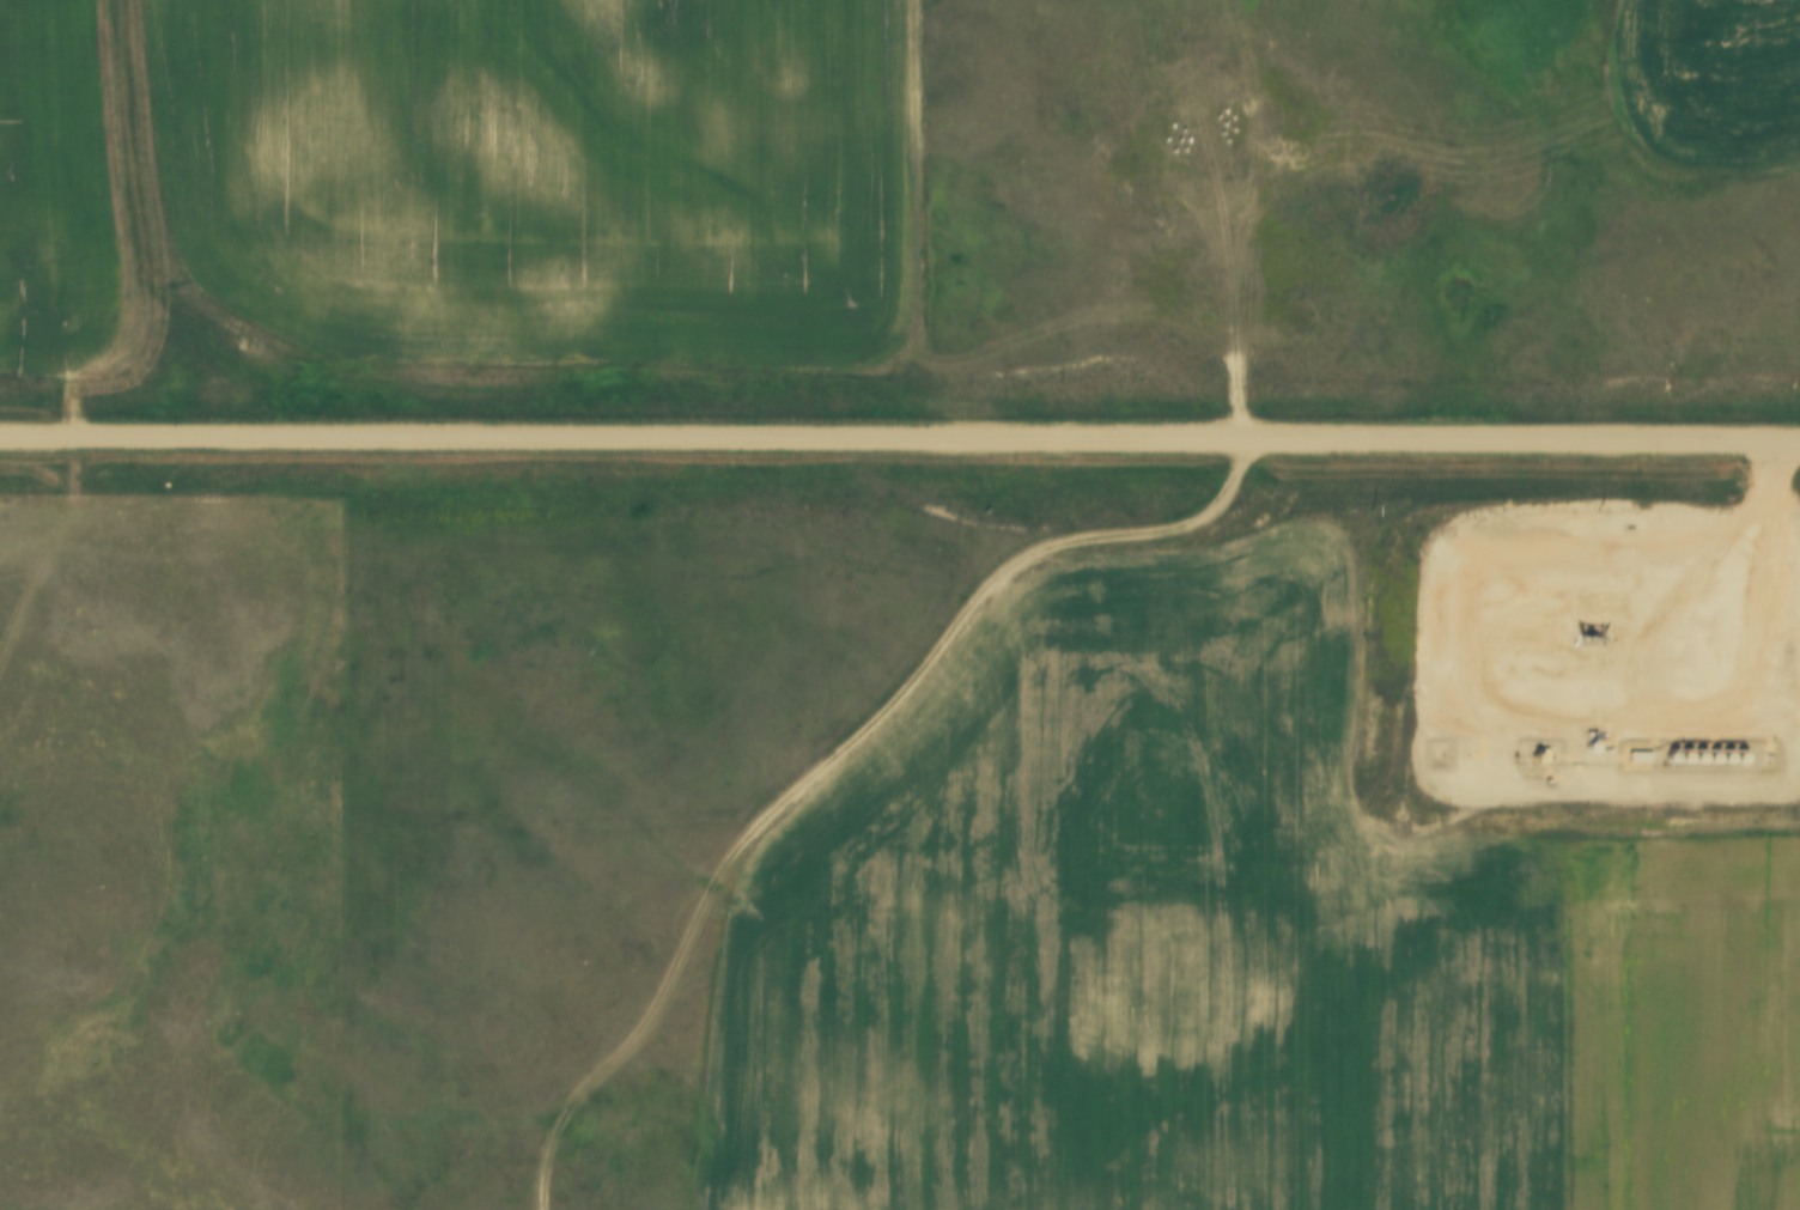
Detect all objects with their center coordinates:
road: (899, 436)
petroleum well: (1591, 628)
building: (1593, 738)
storage tank: (1593, 738)
building: (1543, 744)
road: (832, 747)
building: (1641, 747)
building: (1673, 748)
storage tank: (1673, 748)
building: (1688, 748)
storage tank: (1688, 748)
building: (1715, 748)
storage tank: (1715, 748)
building: (1743, 748)
storage tank: (1743, 748)
building: (1701, 749)
storage tank: (1701, 749)
building: (1728, 749)
storage tank: (1728, 749)

